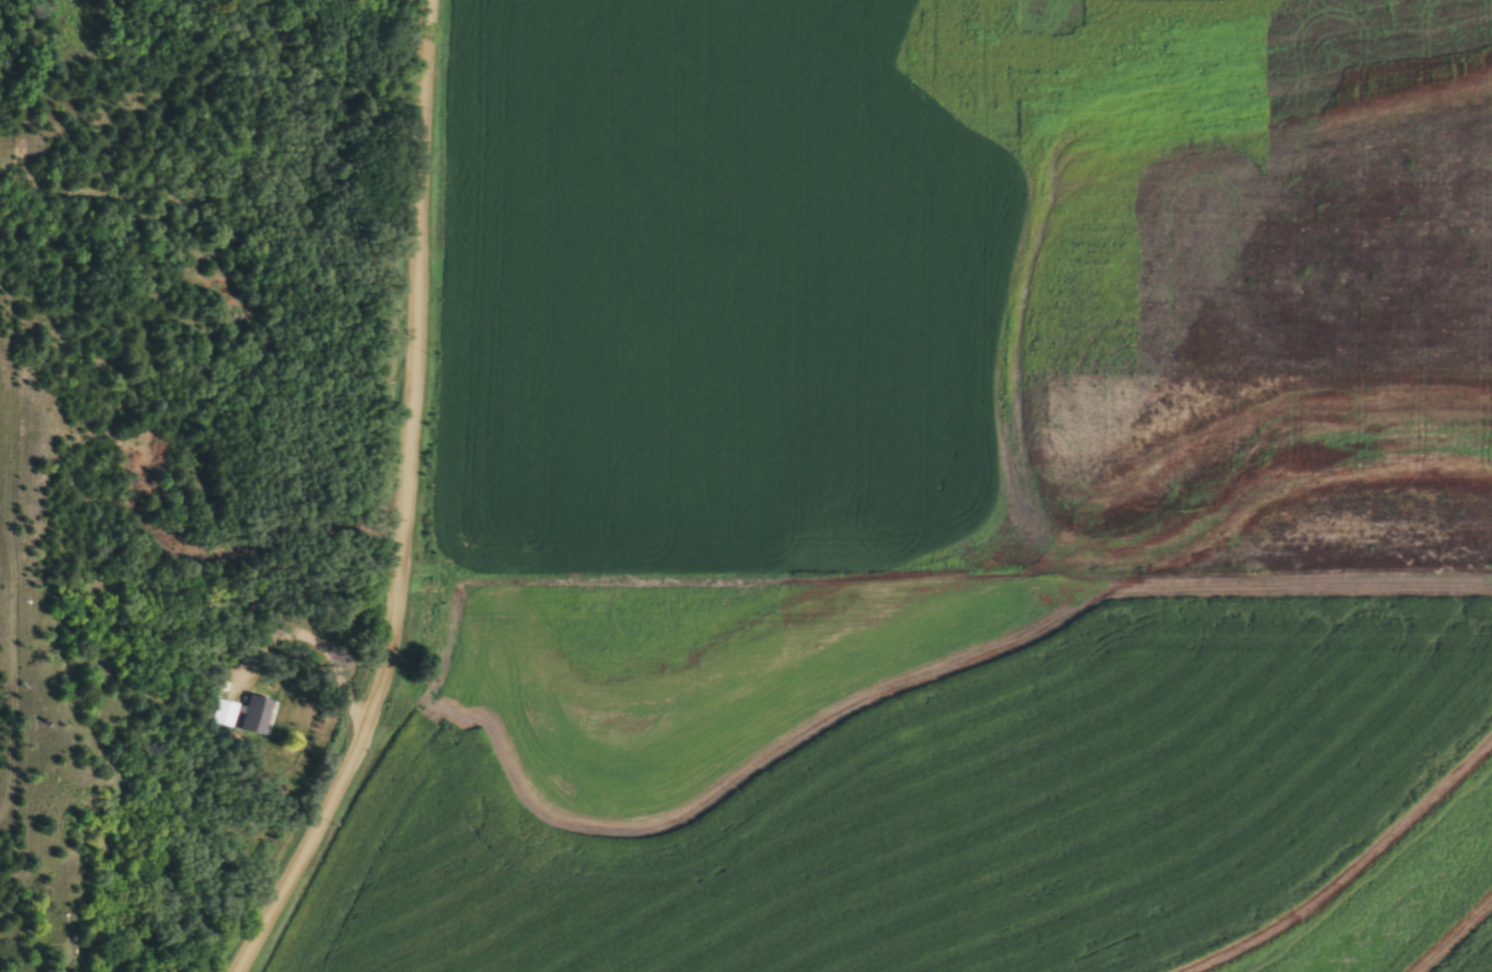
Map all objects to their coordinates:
road: (408, 504)

